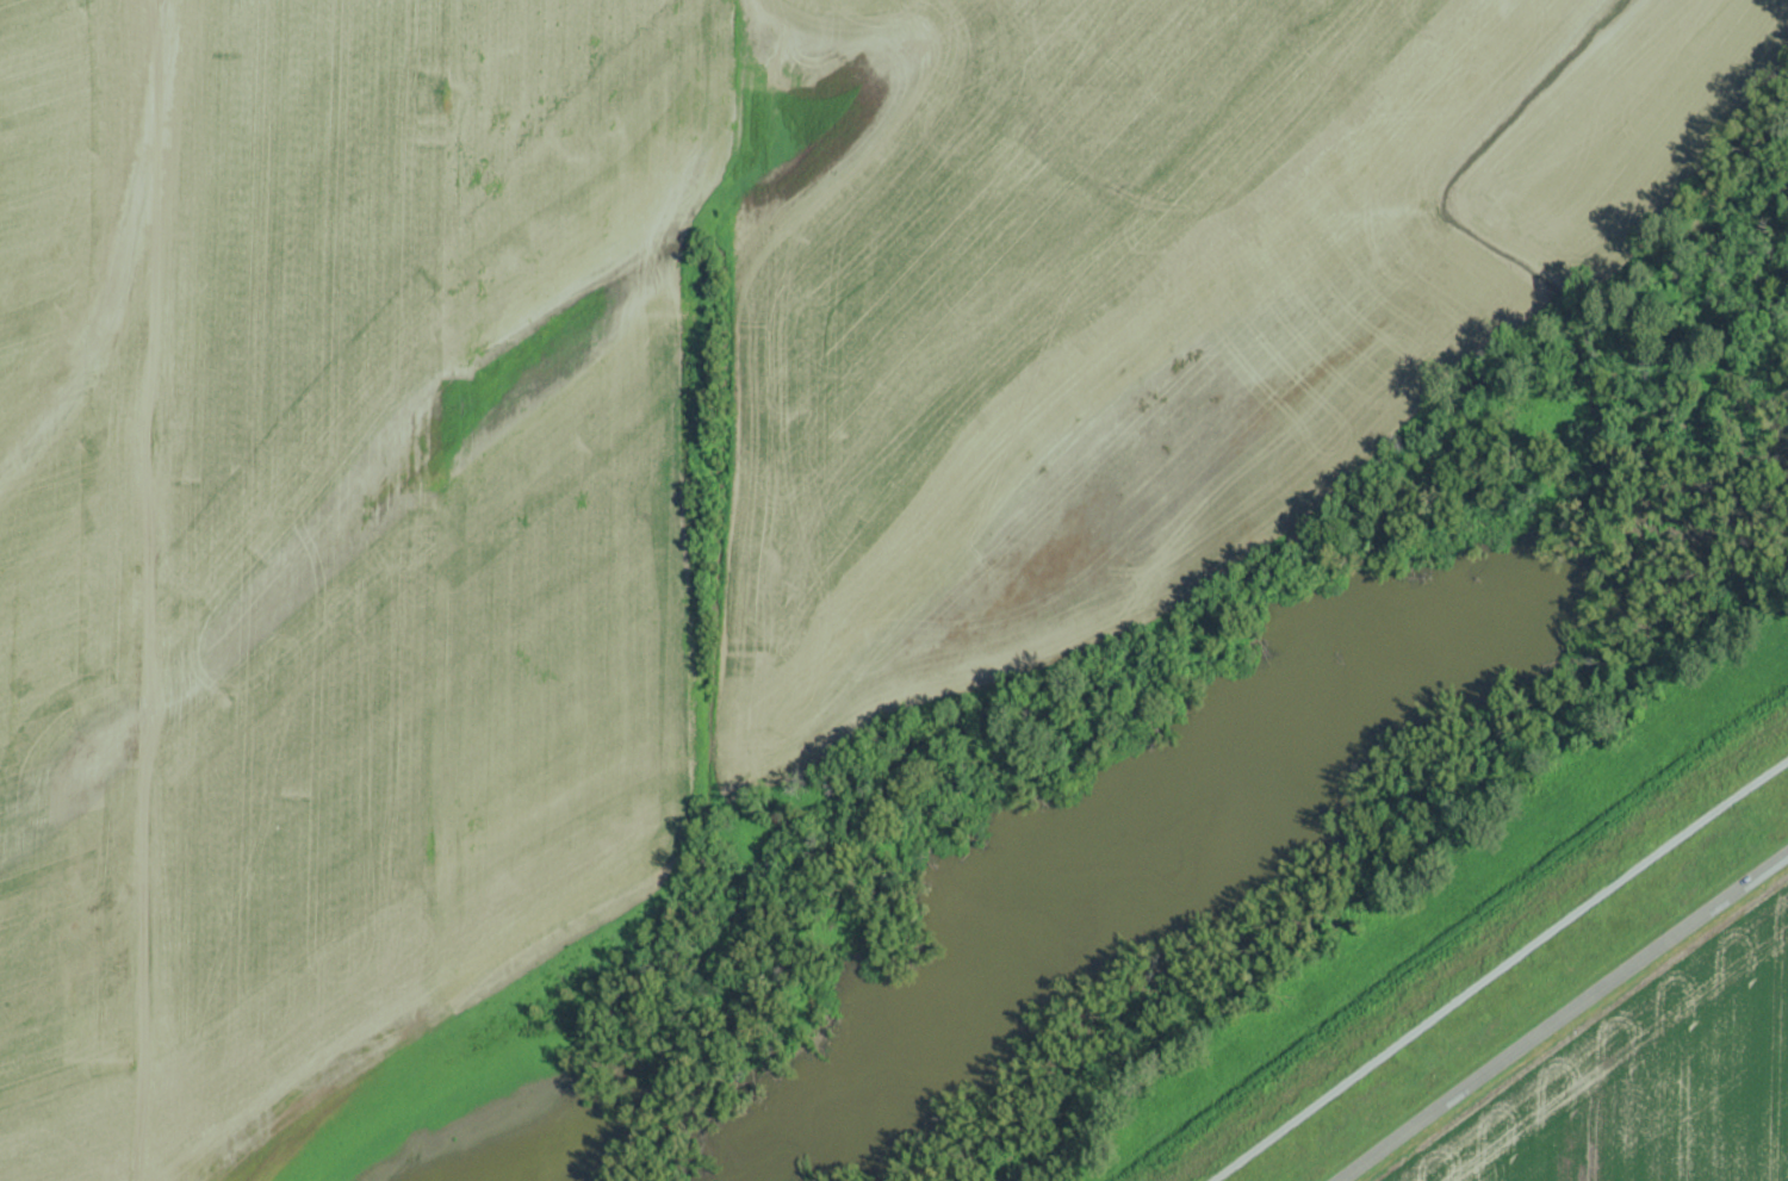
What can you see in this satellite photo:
road: (1616, 1056)

